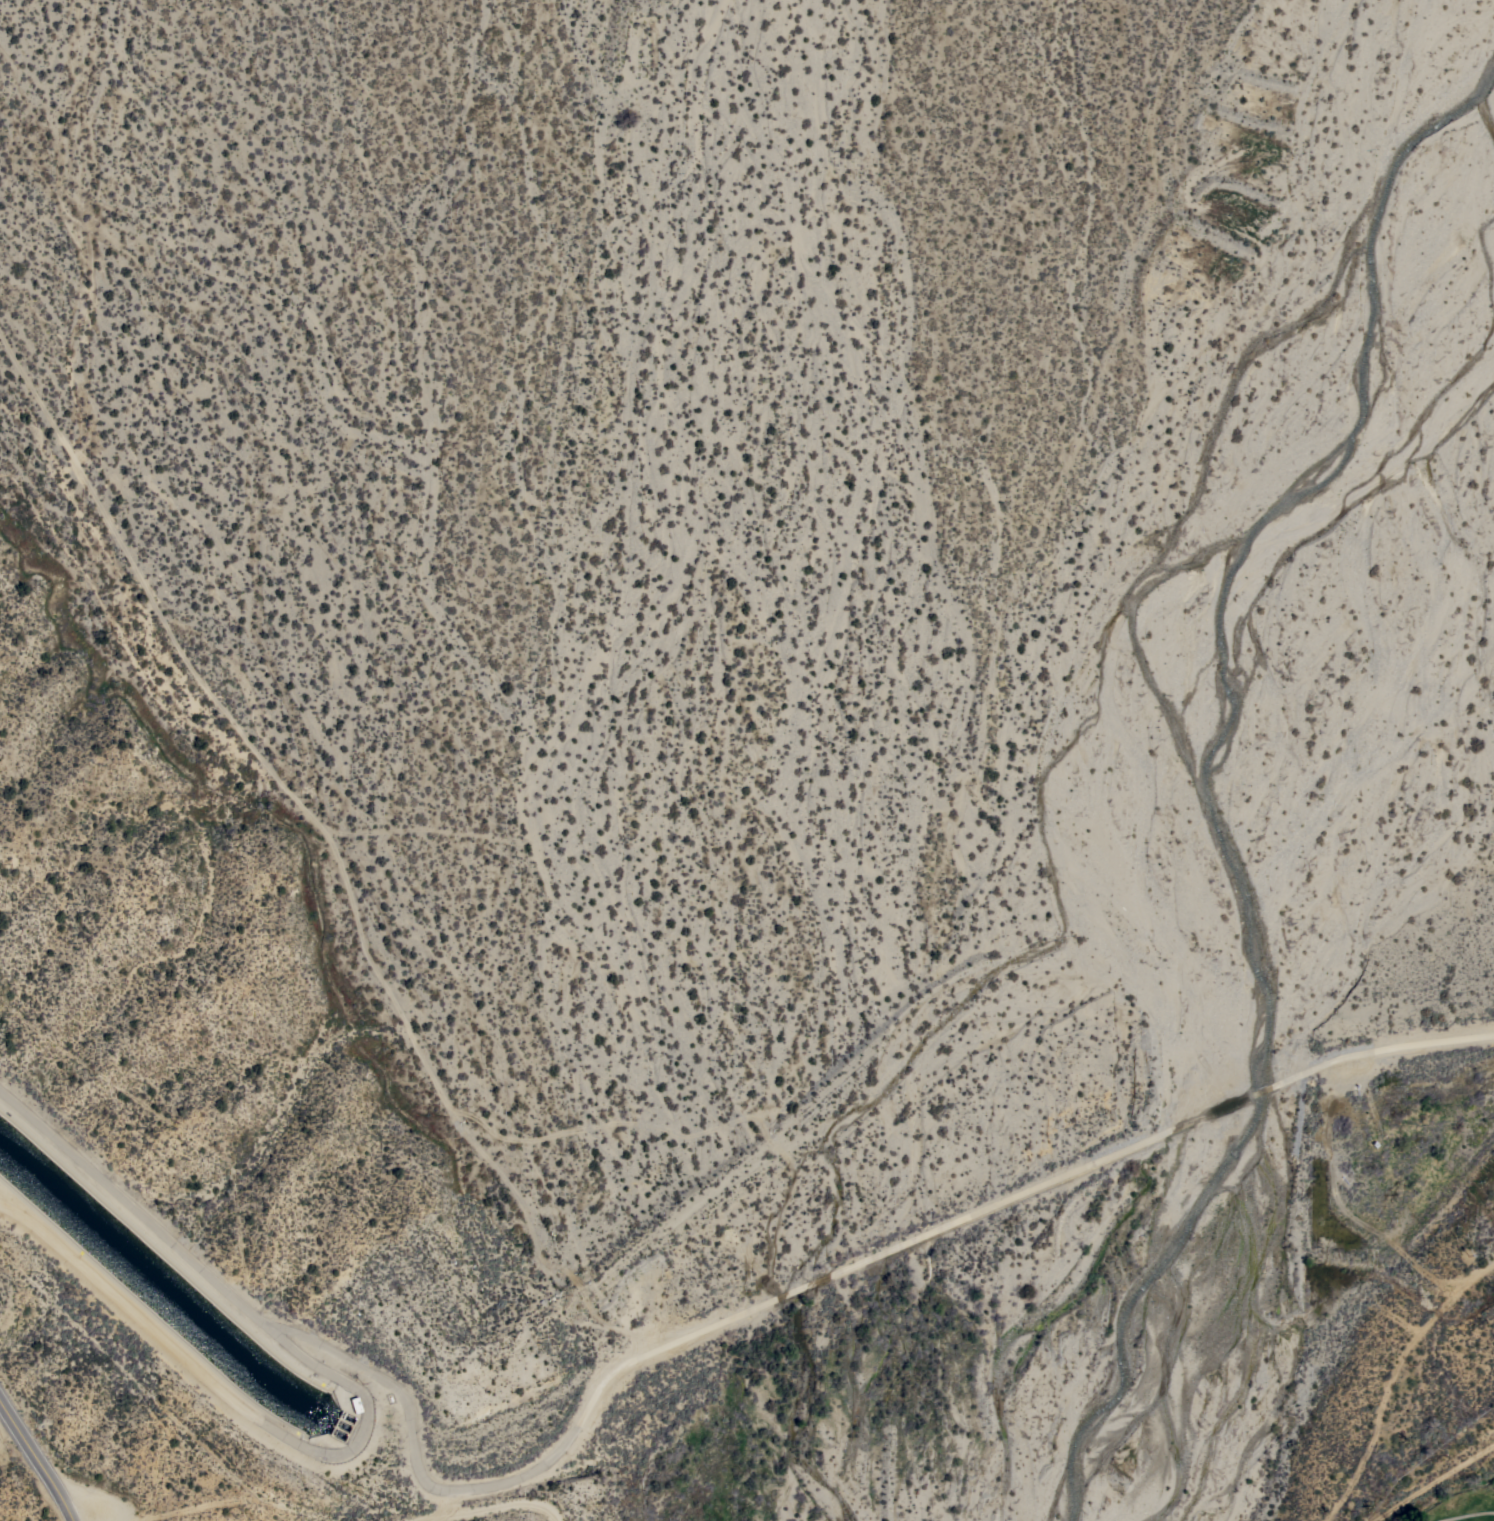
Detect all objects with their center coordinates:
park: (1447, 1436)
road: (39, 1457)

